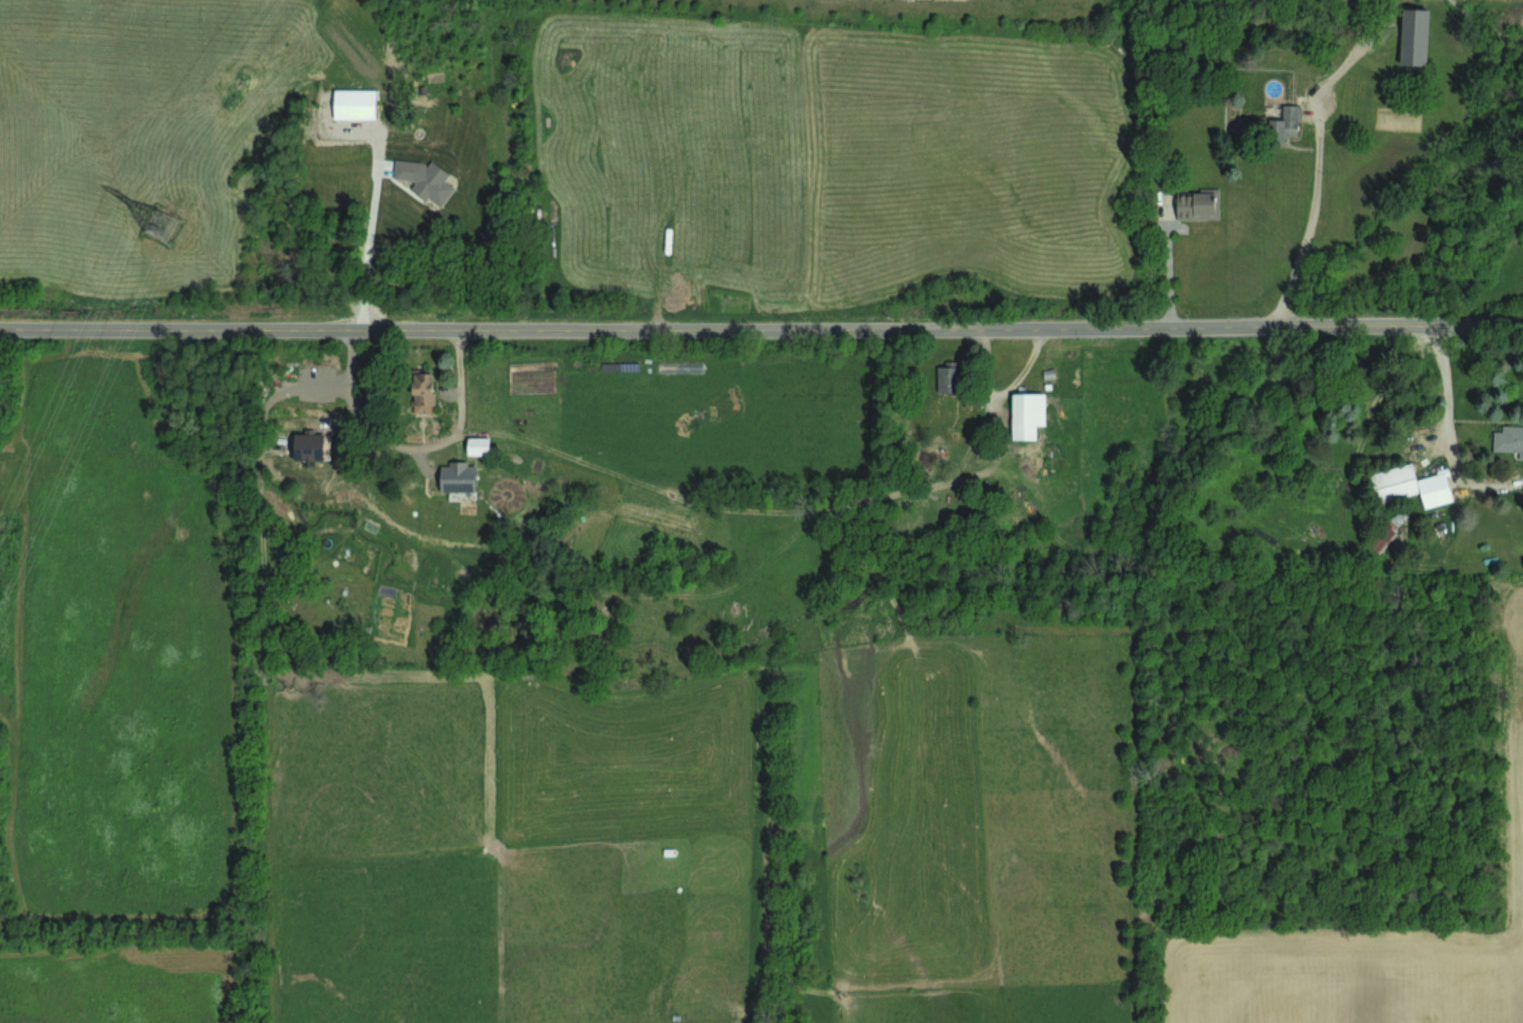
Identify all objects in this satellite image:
building: (1414, 36)
building: (354, 103)
building: (1285, 123)
building: (1197, 204)
road: (374, 209)
power tower: (164, 221)
road: (1307, 224)
road: (1163, 262)
road: (761, 326)
building: (423, 392)
road: (1442, 393)
building: (1027, 414)
building: (1509, 439)
building: (478, 445)
road: (406, 448)
building: (458, 479)
building: (1411, 484)
building: (1522, 490)
building: (1386, 529)

